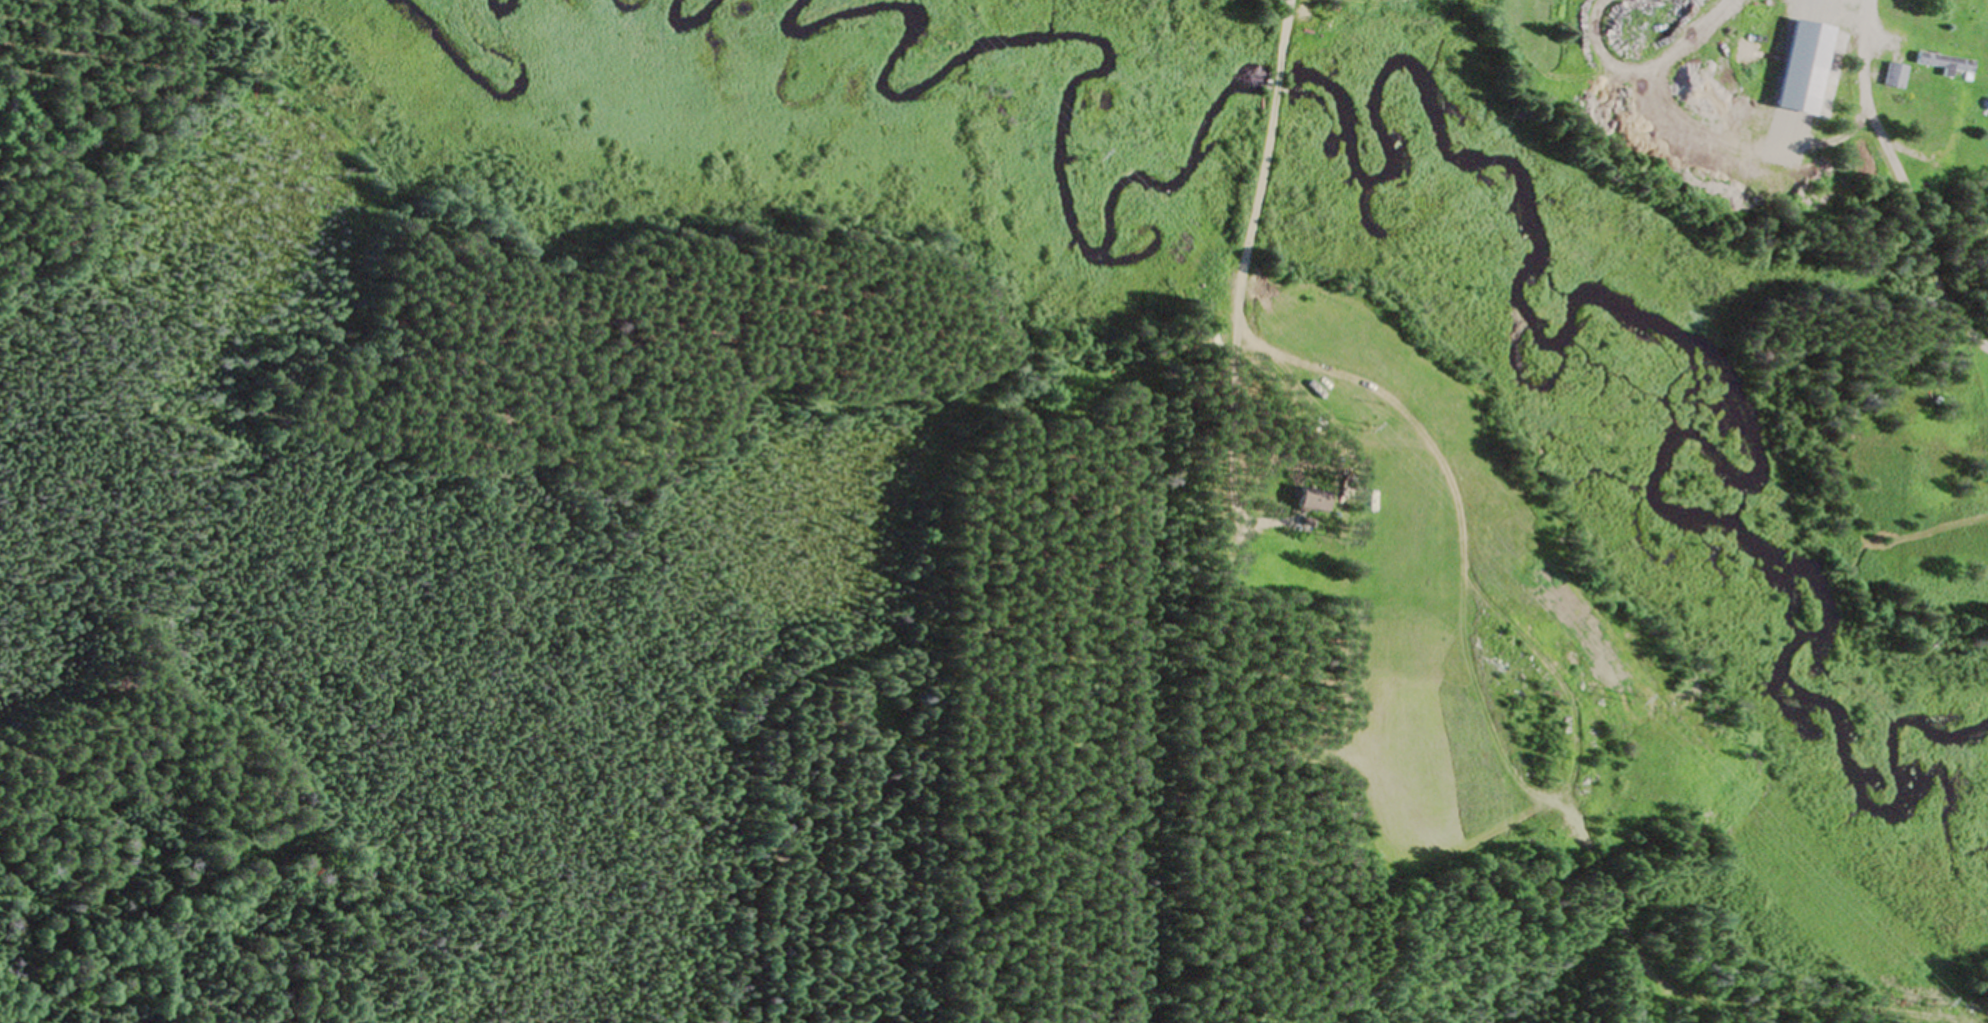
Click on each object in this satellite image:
road: (1285, 41)
building: (1943, 65)
building: (1893, 77)
road: (1278, 87)
power tower: (1090, 157)
road: (1249, 334)
power tower: (1359, 428)
building: (1307, 503)
power tower: (1630, 700)
power tower: (1931, 1005)

